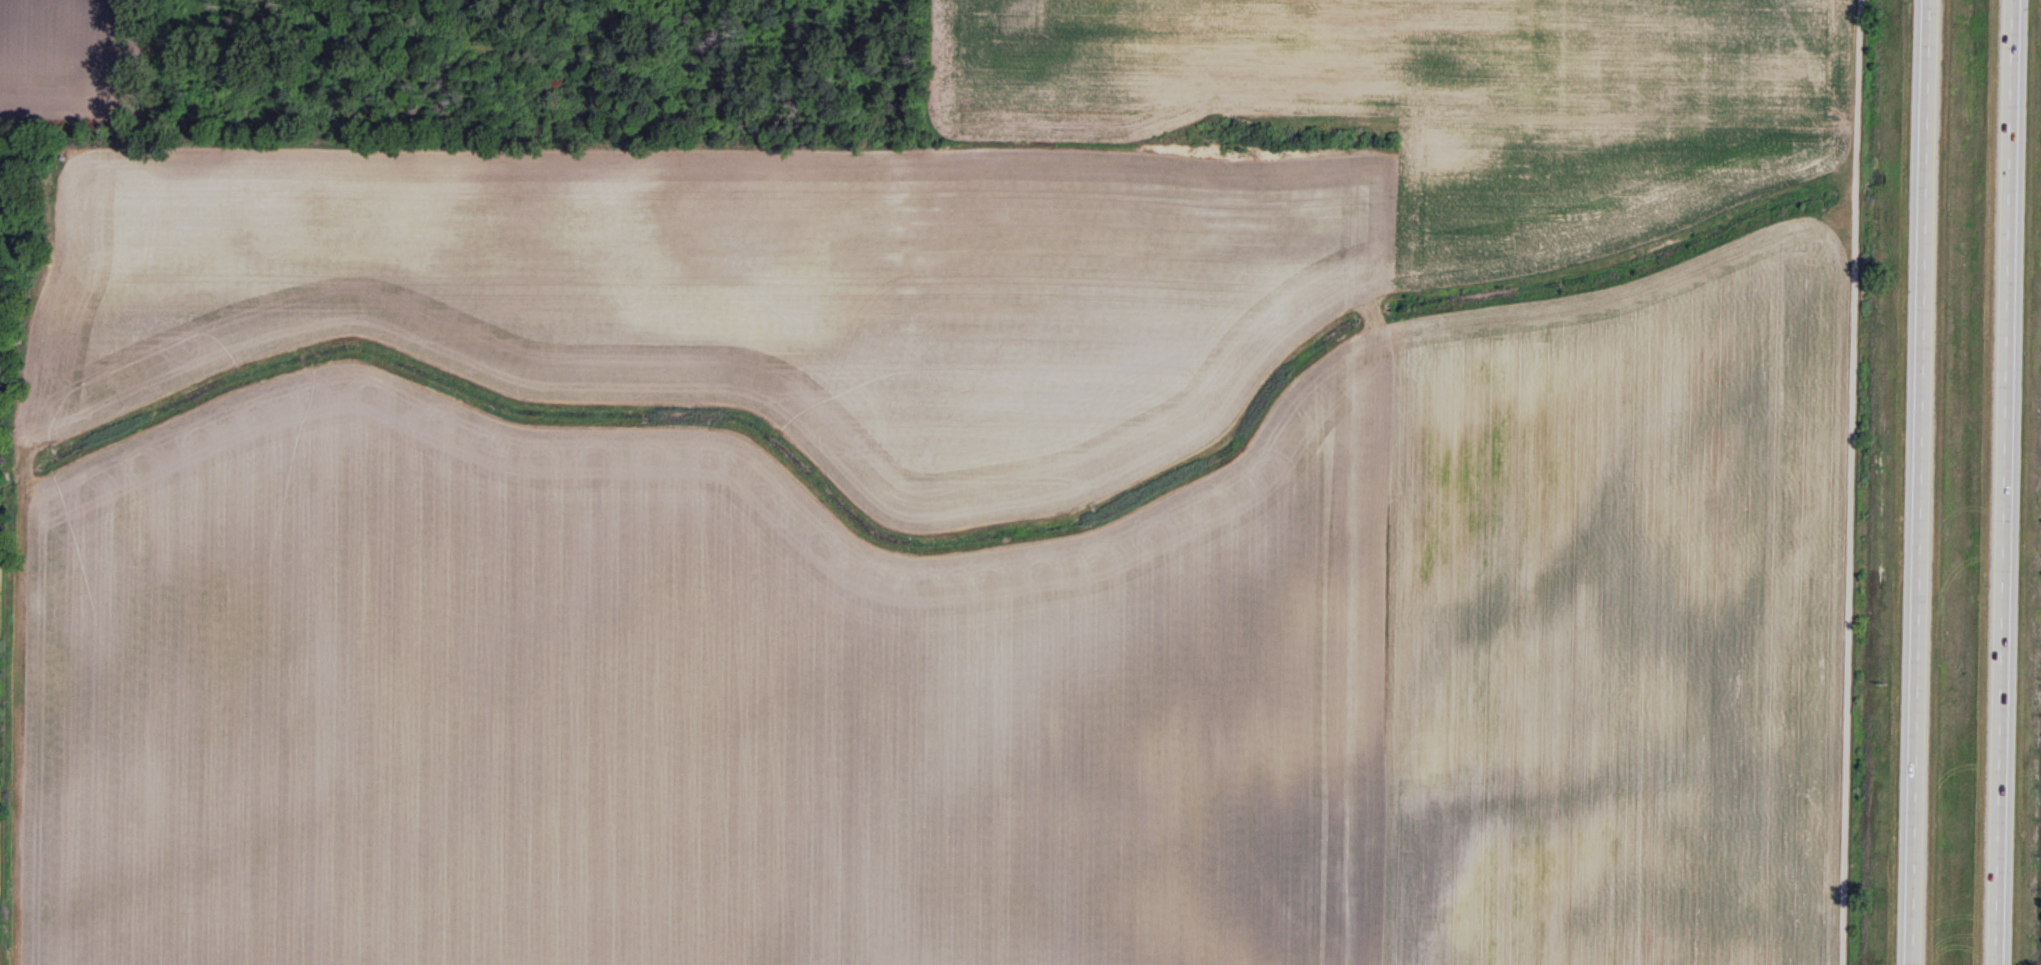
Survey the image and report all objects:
road: (1919, 482)
road: (2008, 482)

